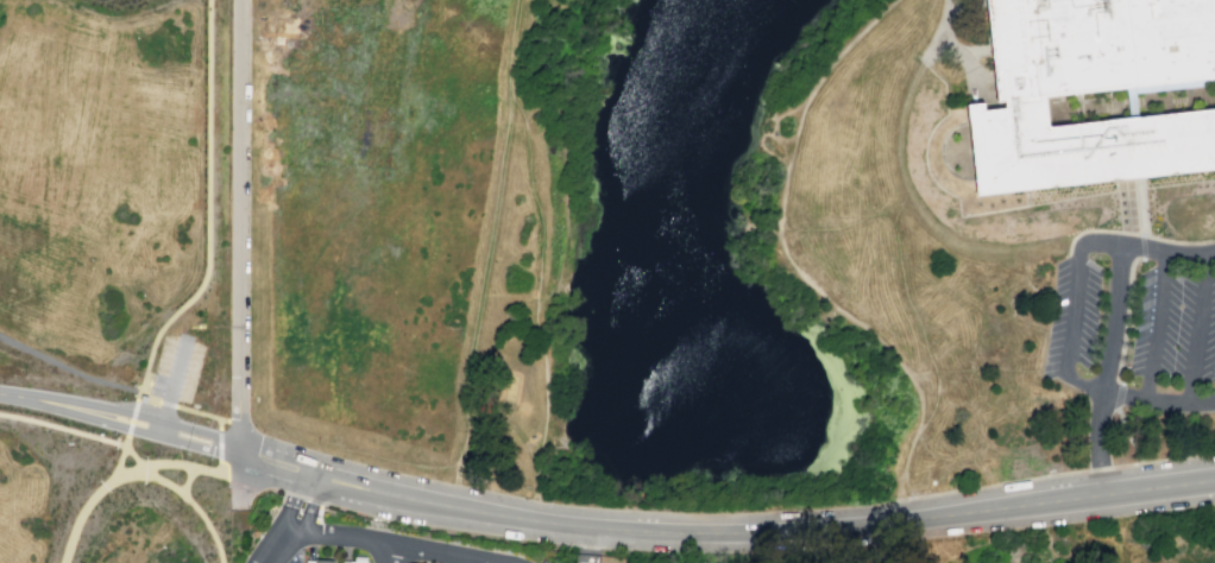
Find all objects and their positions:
crop: (334, 2)
road: (946, 43)
road: (314, 50)
building: (1019, 97)
road: (210, 205)
road: (238, 210)
road: (894, 217)
road: (1141, 217)
road: (843, 226)
road: (788, 258)
road: (540, 261)
road: (481, 280)
road: (1077, 292)
road: (1126, 316)
parking lot: (1135, 321)
road: (1113, 324)
road: (1154, 325)
road: (1196, 329)
road: (933, 368)
parking lot: (176, 369)
road: (112, 384)
road: (171, 387)
road: (1120, 392)
road: (1141, 397)
road: (44, 400)
road: (155, 417)
road: (228, 419)
road: (131, 422)
road: (63, 426)
road: (219, 426)
road: (238, 435)
building: (531, 435)
road: (1128, 435)
road: (152, 436)
road: (228, 442)
road: (219, 444)
road: (354, 450)
road: (228, 451)
road: (119, 462)
road: (189, 467)
road: (455, 472)
road: (1057, 475)
road: (185, 480)
road: (183, 496)
road: (1097, 496)
road: (291, 499)
road: (89, 502)
parking lot: (241, 505)
road: (442, 505)
road: (309, 507)
road: (901, 510)
road: (817, 529)
road: (276, 542)
road: (391, 543)
road: (879, 543)
park: (1003, 544)
park: (861, 545)
road: (389, 552)
parking lot: (295, 556)
road: (259, 559)
road: (266, 559)
building: (357, 559)
building: (317, 561)

